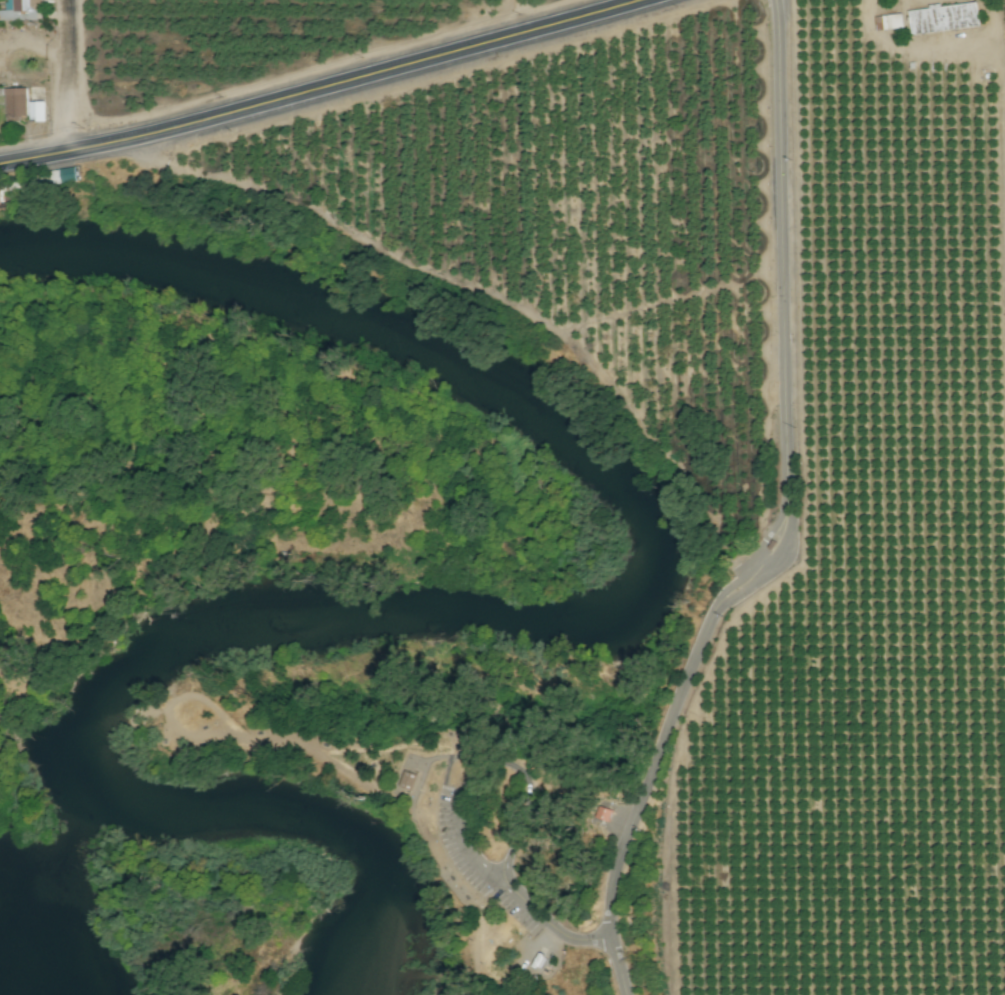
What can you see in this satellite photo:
building: (21, 5)
building: (943, 17)
building: (888, 21)
road: (70, 77)
road: (321, 89)
building: (14, 101)
building: (35, 111)
building: (68, 174)
road: (785, 521)
crop: (273, 526)
river: (478, 610)
road: (491, 760)
building: (408, 778)
road: (551, 925)

